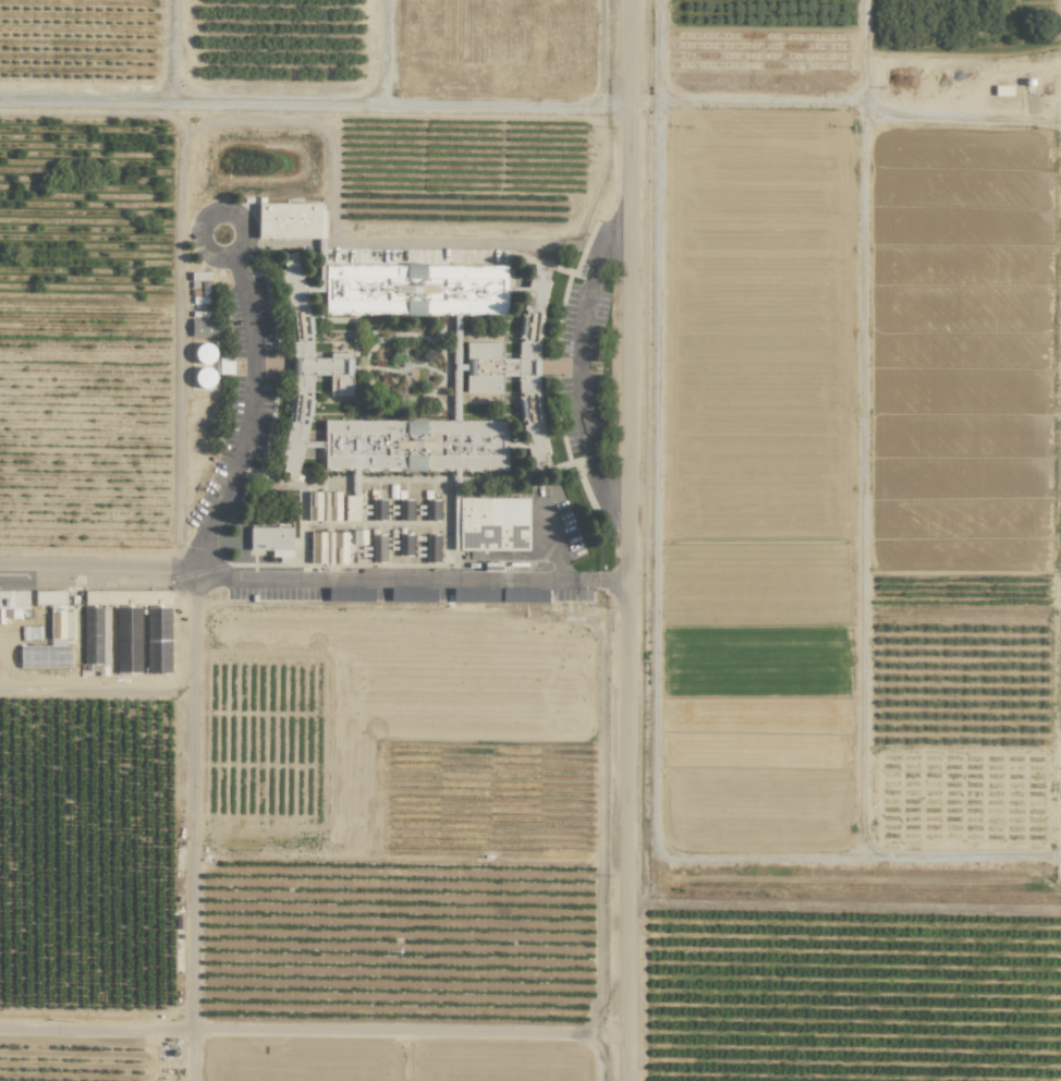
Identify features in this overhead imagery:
building: (1002, 89)
road: (847, 102)
road: (93, 114)
road: (198, 117)
road: (234, 217)
building: (288, 220)
building: (197, 276)
building: (200, 327)
building: (203, 353)
road: (580, 365)
building: (415, 368)
road: (253, 416)
road: (859, 428)
building: (491, 523)
building: (373, 526)
building: (269, 539)
road: (632, 540)
road: (315, 575)
building: (95, 596)
building: (12, 603)
crop: (285, 612)
building: (49, 635)
building: (96, 652)
road: (96, 685)
road: (845, 859)
road: (191, 895)
road: (391, 1030)
road: (611, 1034)
road: (191, 1053)
road: (592, 1057)

